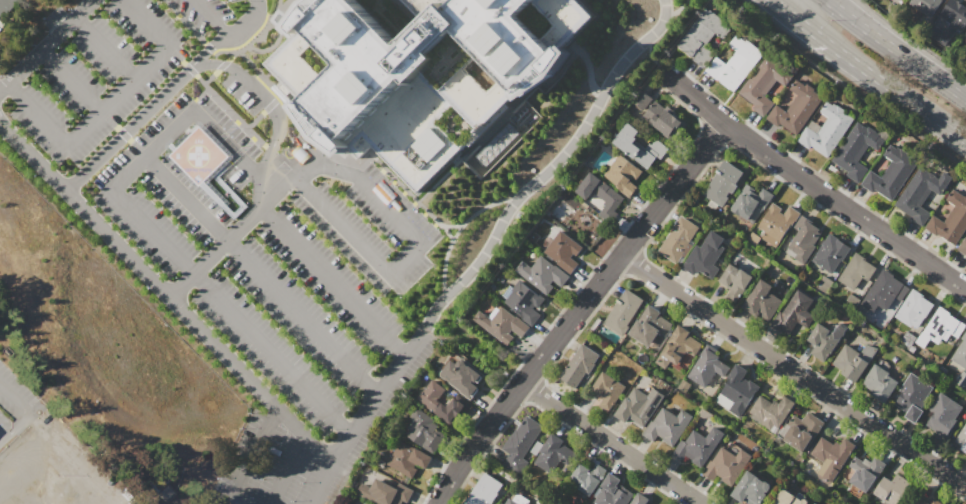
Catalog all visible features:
building: (900, 1)
building: (4, 4)
road: (780, 6)
road: (792, 6)
building: (924, 6)
road: (84, 9)
road: (211, 18)
parking lot: (223, 18)
building: (950, 21)
road: (144, 22)
road: (249, 22)
building: (703, 36)
building: (965, 37)
road: (892, 47)
road: (104, 48)
road: (207, 49)
road: (40, 51)
building: (736, 63)
parking lot: (91, 72)
building: (419, 72)
road: (239, 73)
road: (876, 78)
road: (70, 81)
building: (764, 83)
road: (3, 87)
parking lot: (246, 89)
road: (117, 94)
road: (962, 94)
road: (962, 95)
building: (796, 108)
road: (37, 113)
building: (657, 115)
road: (4, 125)
road: (128, 129)
building: (826, 130)
road: (4, 131)
road: (225, 143)
building: (638, 146)
road: (152, 150)
building: (856, 150)
helipad: (202, 154)
road: (265, 159)
road: (325, 167)
road: (552, 167)
building: (891, 173)
building: (623, 174)
road: (808, 182)
building: (723, 183)
building: (600, 191)
building: (920, 193)
building: (594, 200)
building: (751, 202)
building: (951, 219)
building: (775, 224)
road: (231, 237)
building: (803, 239)
building: (679, 240)
building: (962, 246)
building: (563, 251)
road: (622, 253)
building: (830, 253)
building: (705, 256)
parking lot: (281, 258)
road: (138, 267)
building: (856, 271)
road: (389, 274)
building: (542, 274)
road: (261, 275)
road: (333, 282)
building: (735, 282)
building: (883, 291)
building: (762, 300)
building: (523, 301)
building: (913, 309)
building: (624, 311)
road: (231, 312)
building: (794, 314)
building: (501, 324)
building: (650, 326)
building: (940, 330)
building: (825, 340)
building: (678, 347)
building: (959, 350)
building: (853, 361)
building: (579, 365)
building: (707, 367)
road: (793, 373)
building: (461, 377)
building: (879, 383)
building: (608, 389)
building: (738, 389)
building: (913, 397)
building: (444, 404)
road: (27, 409)
building: (635, 409)
building: (771, 412)
road: (364, 413)
building: (943, 414)
building: (668, 426)
building: (427, 431)
building: (801, 431)
road: (300, 432)
road: (2, 438)
building: (962, 439)
road: (2, 442)
road: (476, 442)
building: (520, 442)
road: (610, 443)
building: (699, 446)
road: (23, 450)
building: (553, 453)
road: (250, 455)
building: (831, 457)
building: (407, 458)
parking lot: (281, 463)
building: (726, 465)
road: (287, 470)
building: (865, 472)
building: (585, 477)
building: (751, 489)
building: (893, 489)
building: (484, 491)
building: (612, 491)
building: (384, 493)
building: (788, 498)
building: (640, 499)
building: (516, 500)
building: (930, 501)
building: (365, 503)
building: (501, 503)
building: (814, 503)

